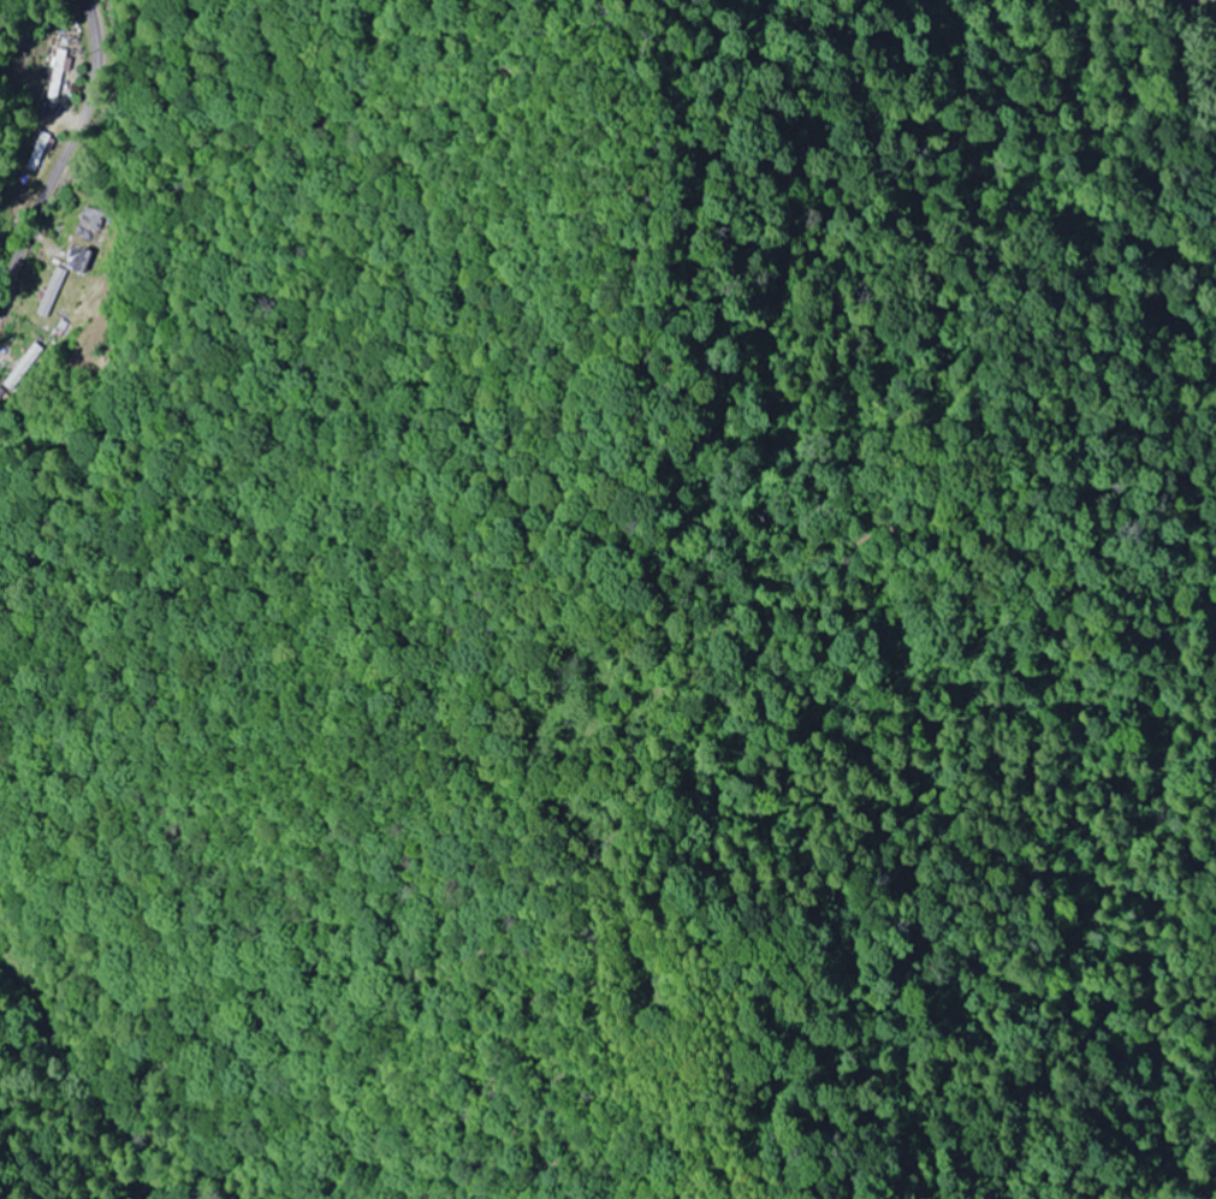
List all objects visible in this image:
road: (1193, 23)
road: (20, 63)
building: (40, 153)
building: (96, 220)
building: (51, 293)
building: (28, 367)

